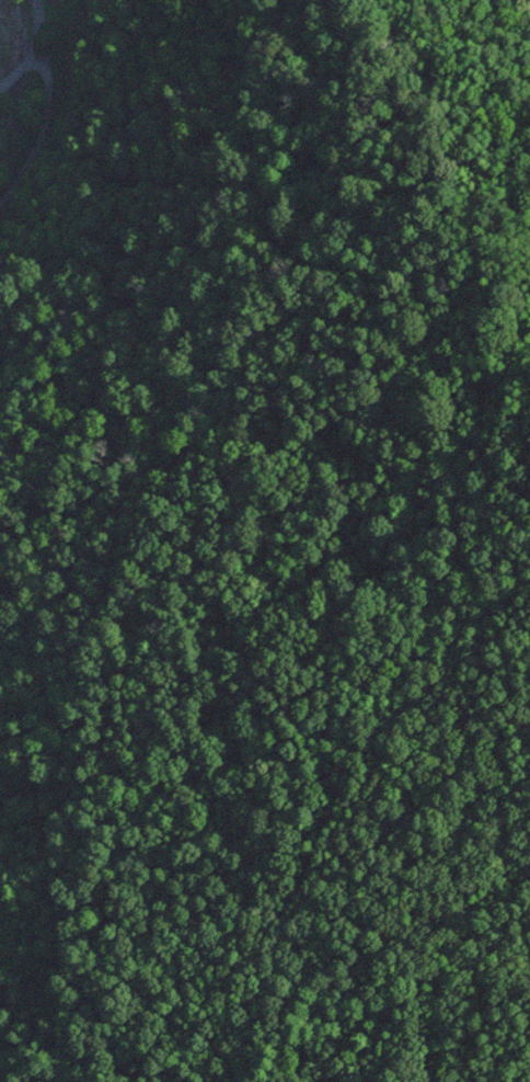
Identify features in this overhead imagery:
road: (33, 33)
road: (11, 75)
road: (45, 128)

